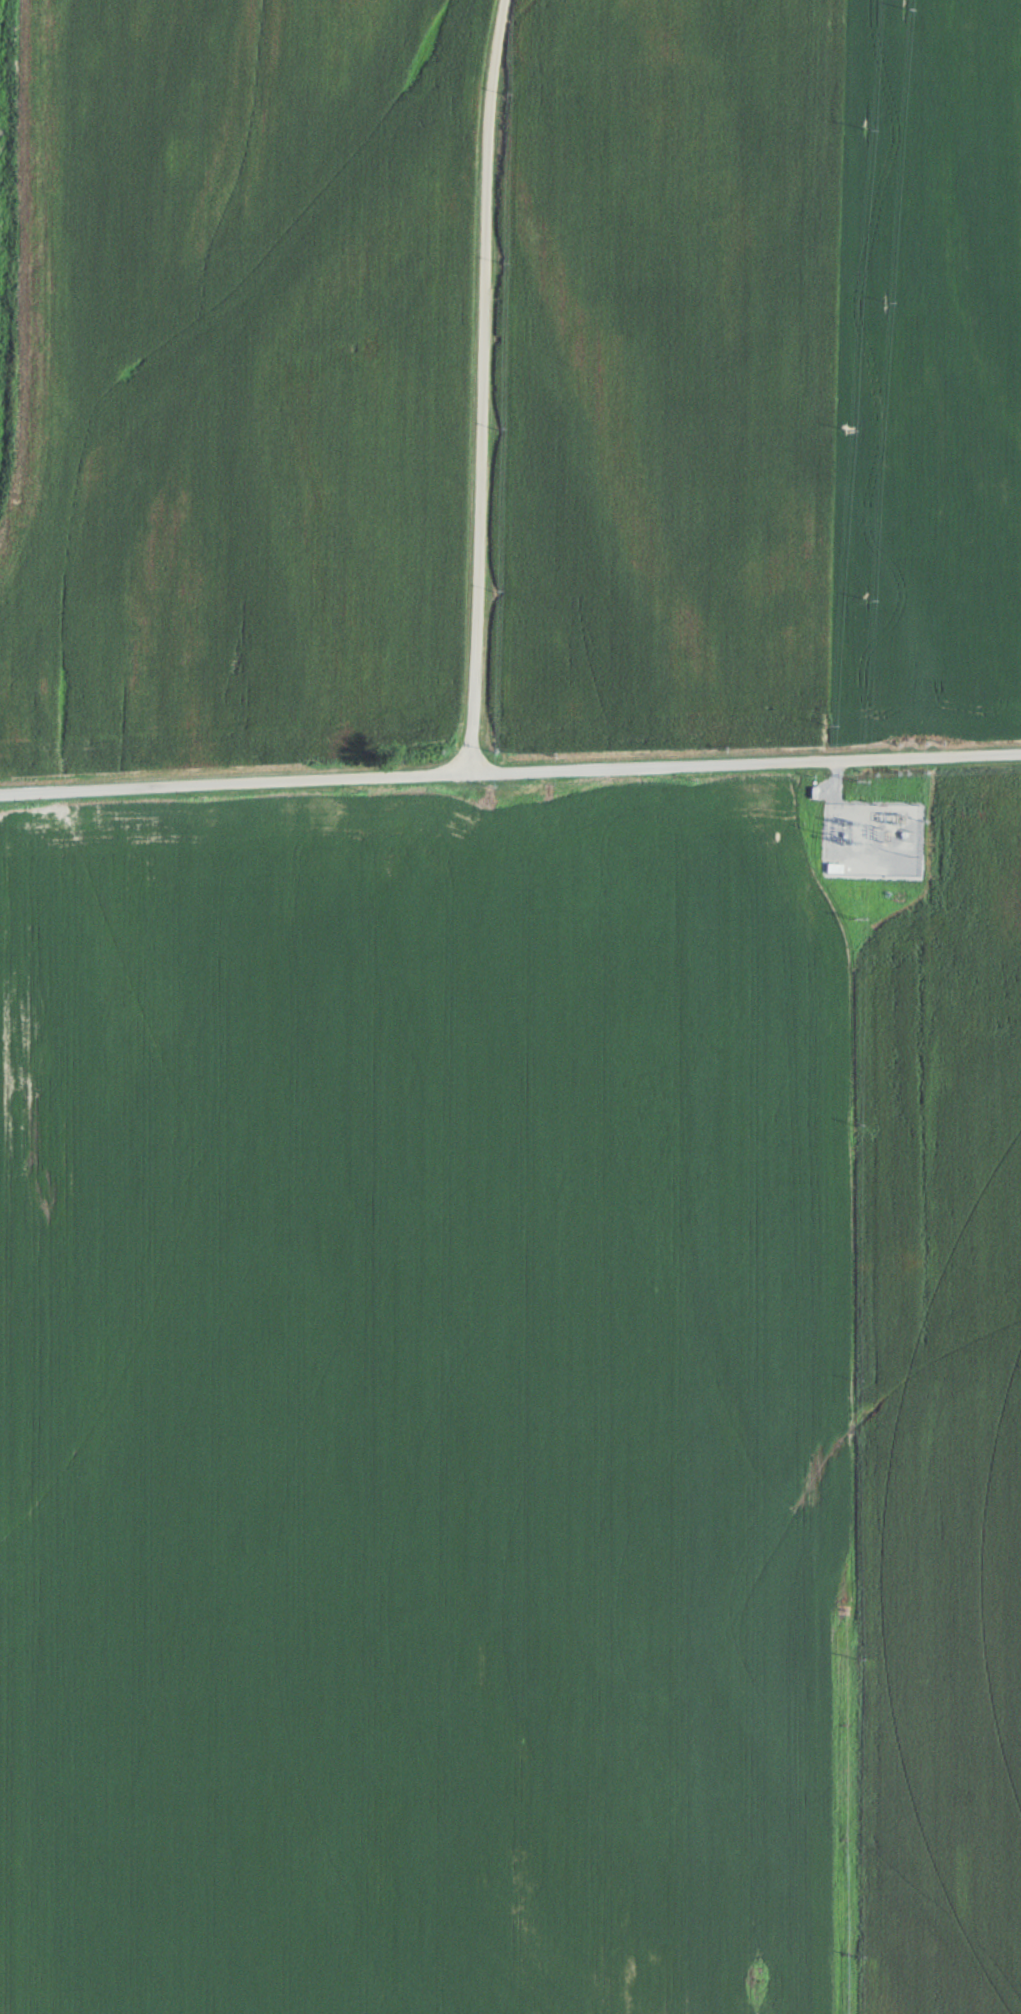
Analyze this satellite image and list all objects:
road: (487, 383)
road: (510, 766)
park: (755, 1979)

